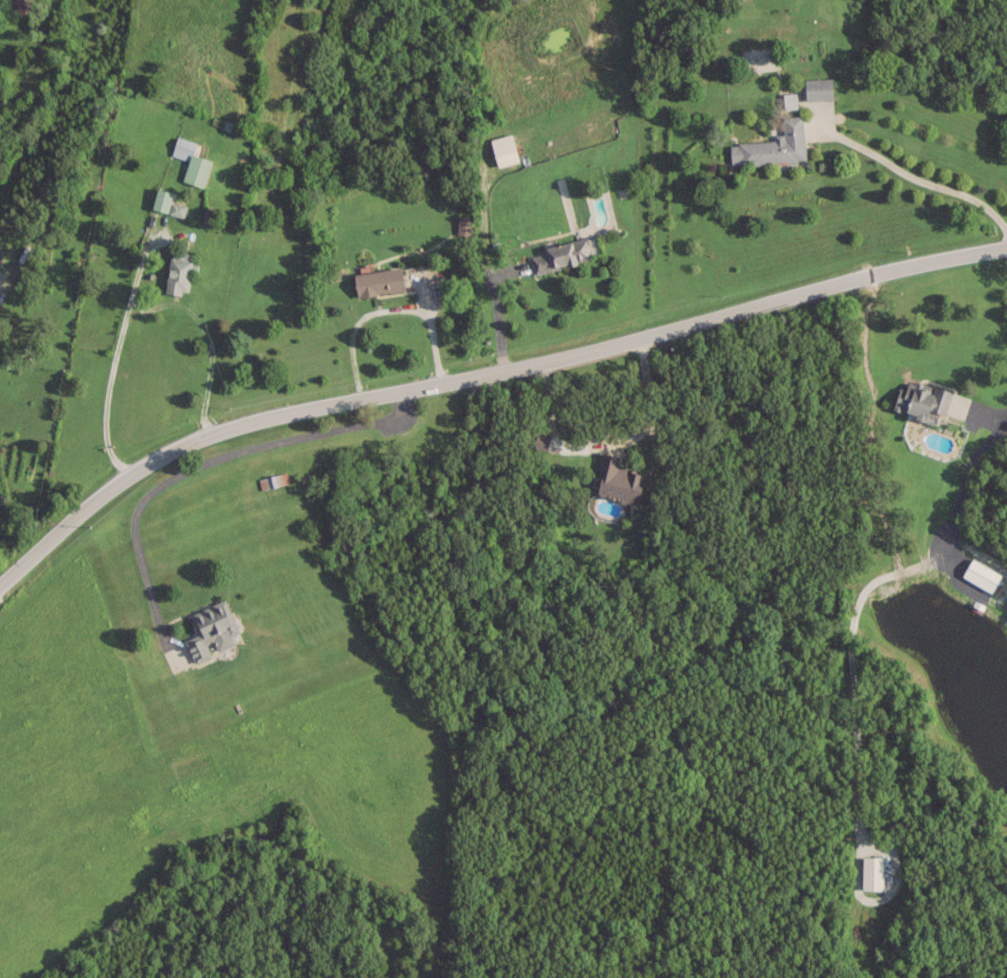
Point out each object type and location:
building: (22, 5)
building: (817, 88)
building: (771, 145)
building: (503, 149)
building: (191, 161)
road: (927, 186)
building: (165, 202)
building: (461, 228)
building: (564, 253)
building: (178, 271)
building: (378, 280)
road: (136, 307)
road: (385, 309)
road: (496, 316)
road: (482, 371)
building: (921, 399)
road: (988, 417)
building: (540, 441)
road: (603, 445)
road: (198, 465)
building: (272, 480)
building: (617, 480)
building: (980, 574)
building: (210, 629)
building: (871, 872)

